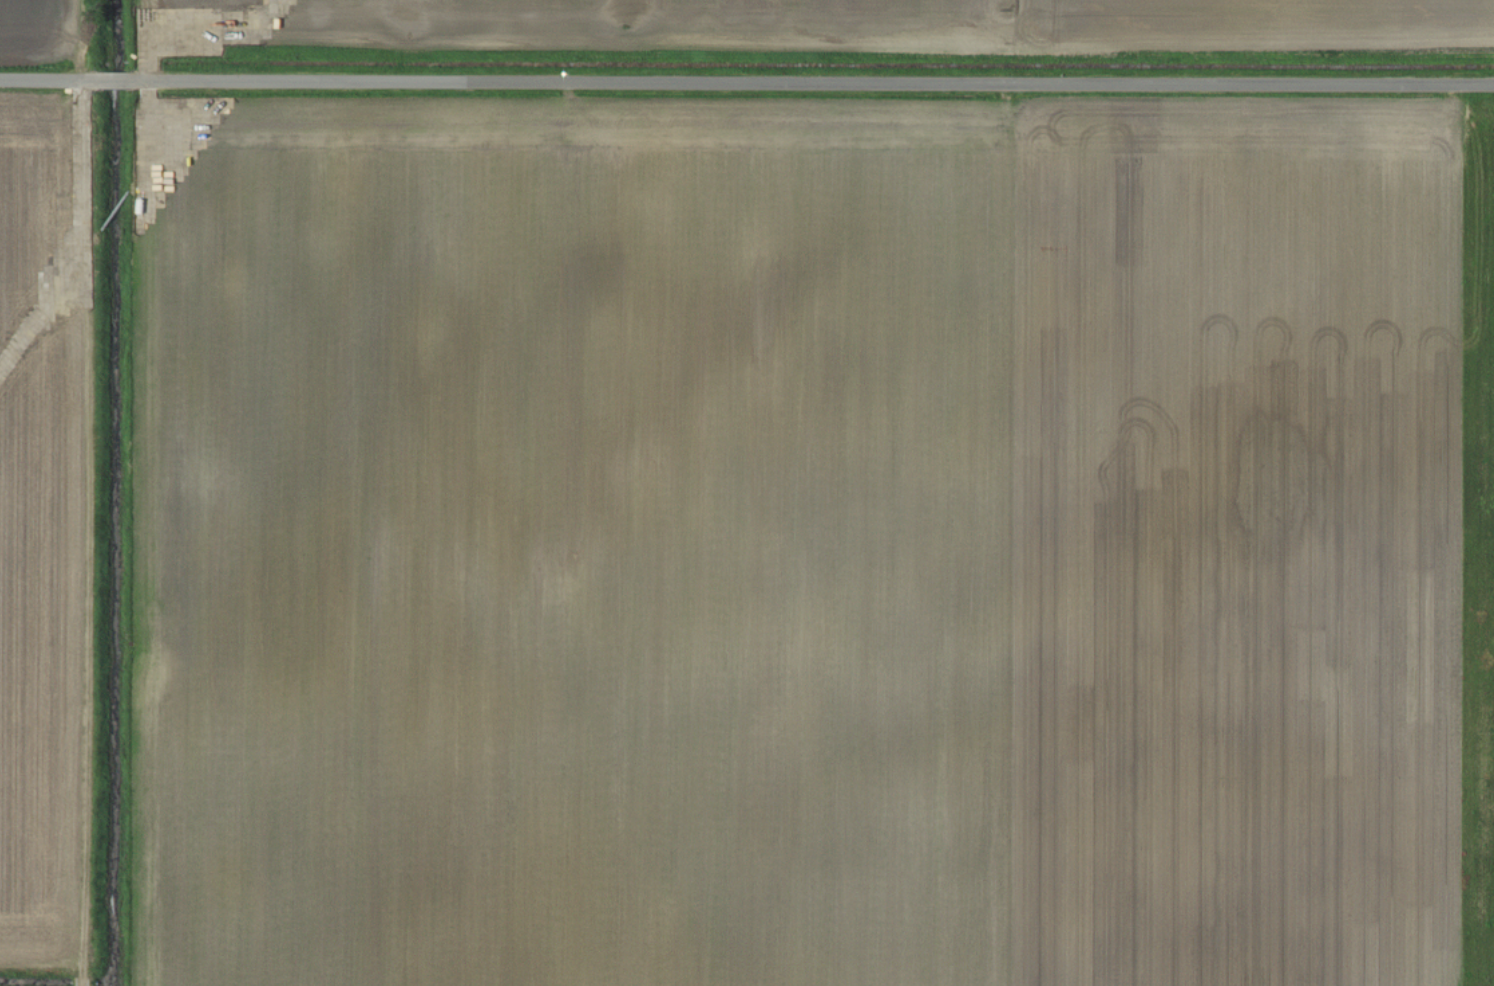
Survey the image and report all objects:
road: (747, 75)

